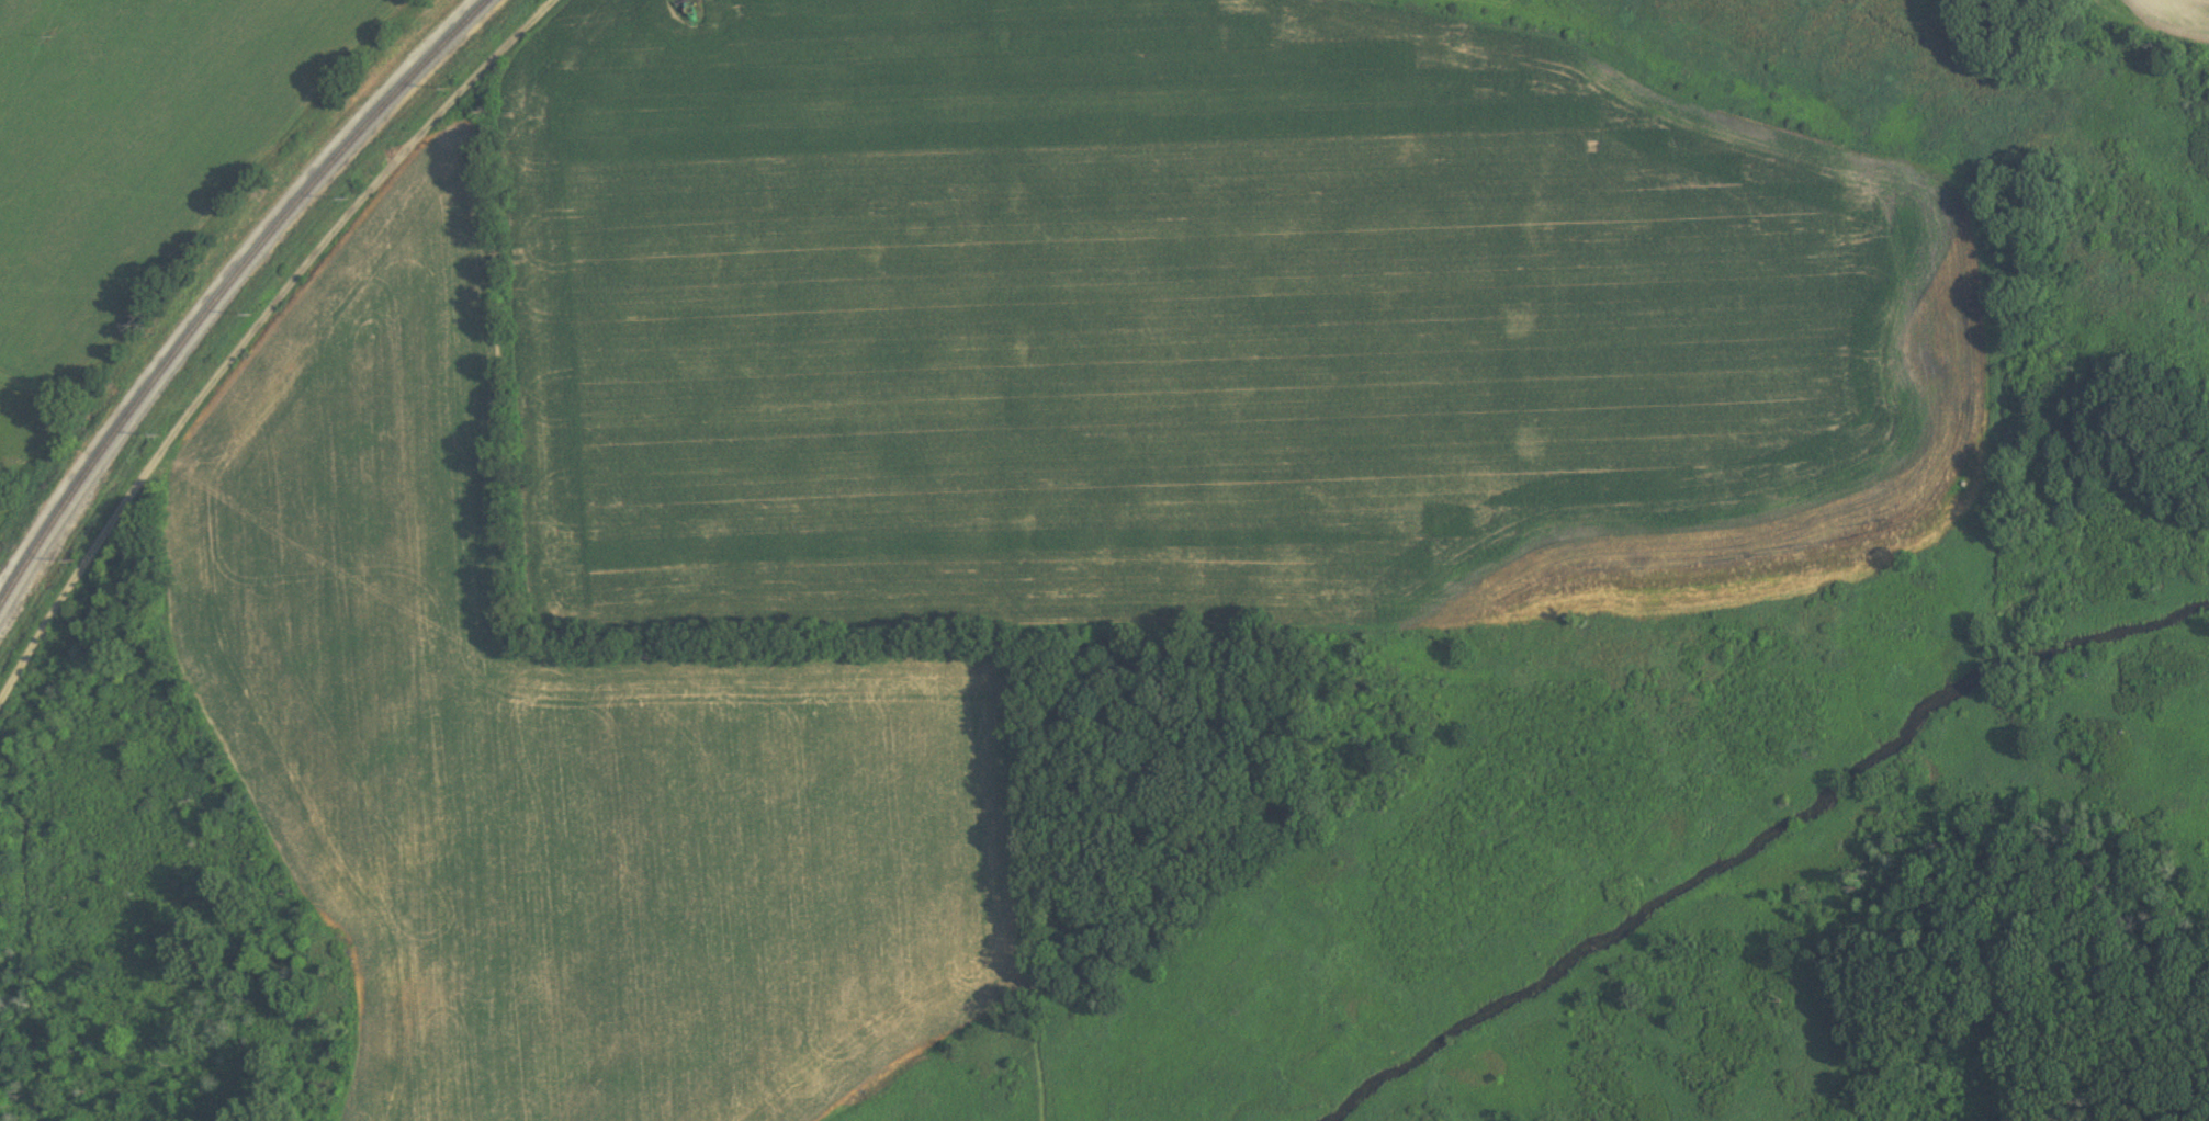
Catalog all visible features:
railway: (226, 290)
road: (252, 332)

